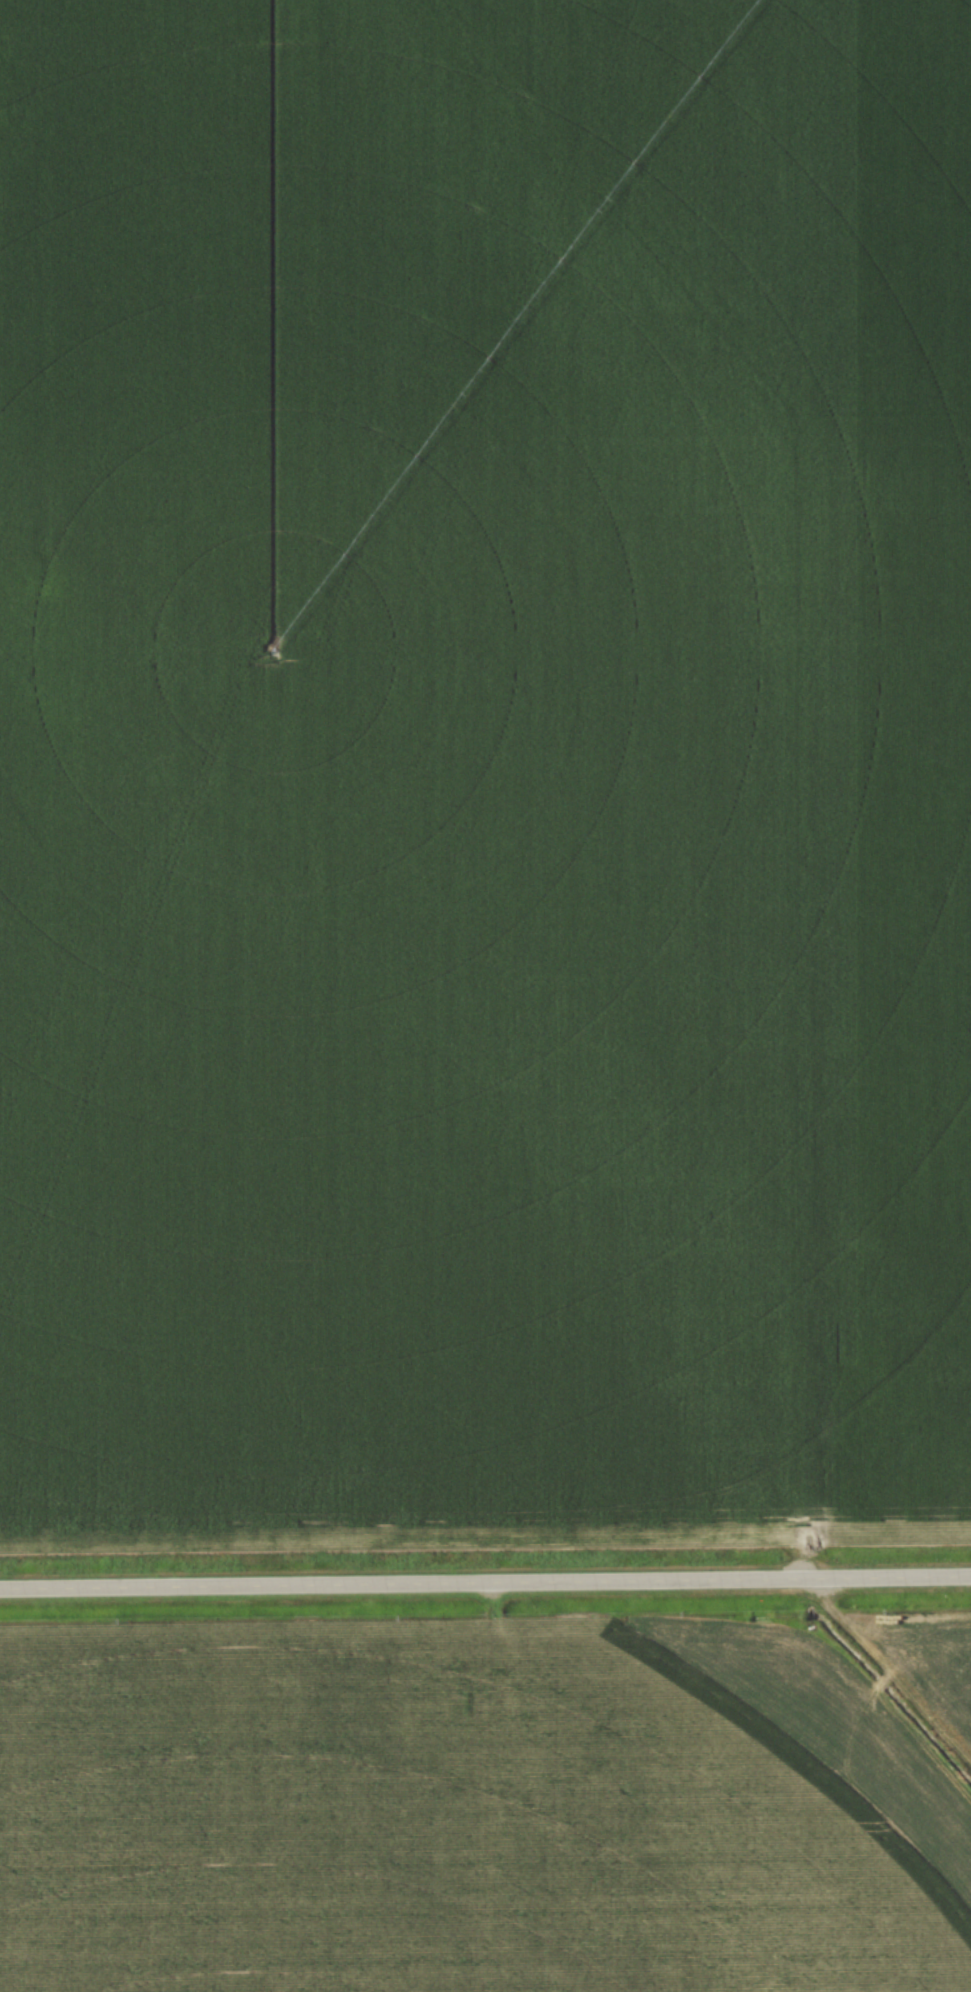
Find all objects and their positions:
road: (629, 214)
road: (659, 288)
crop: (484, 771)
road: (485, 1582)
crop: (488, 1806)

